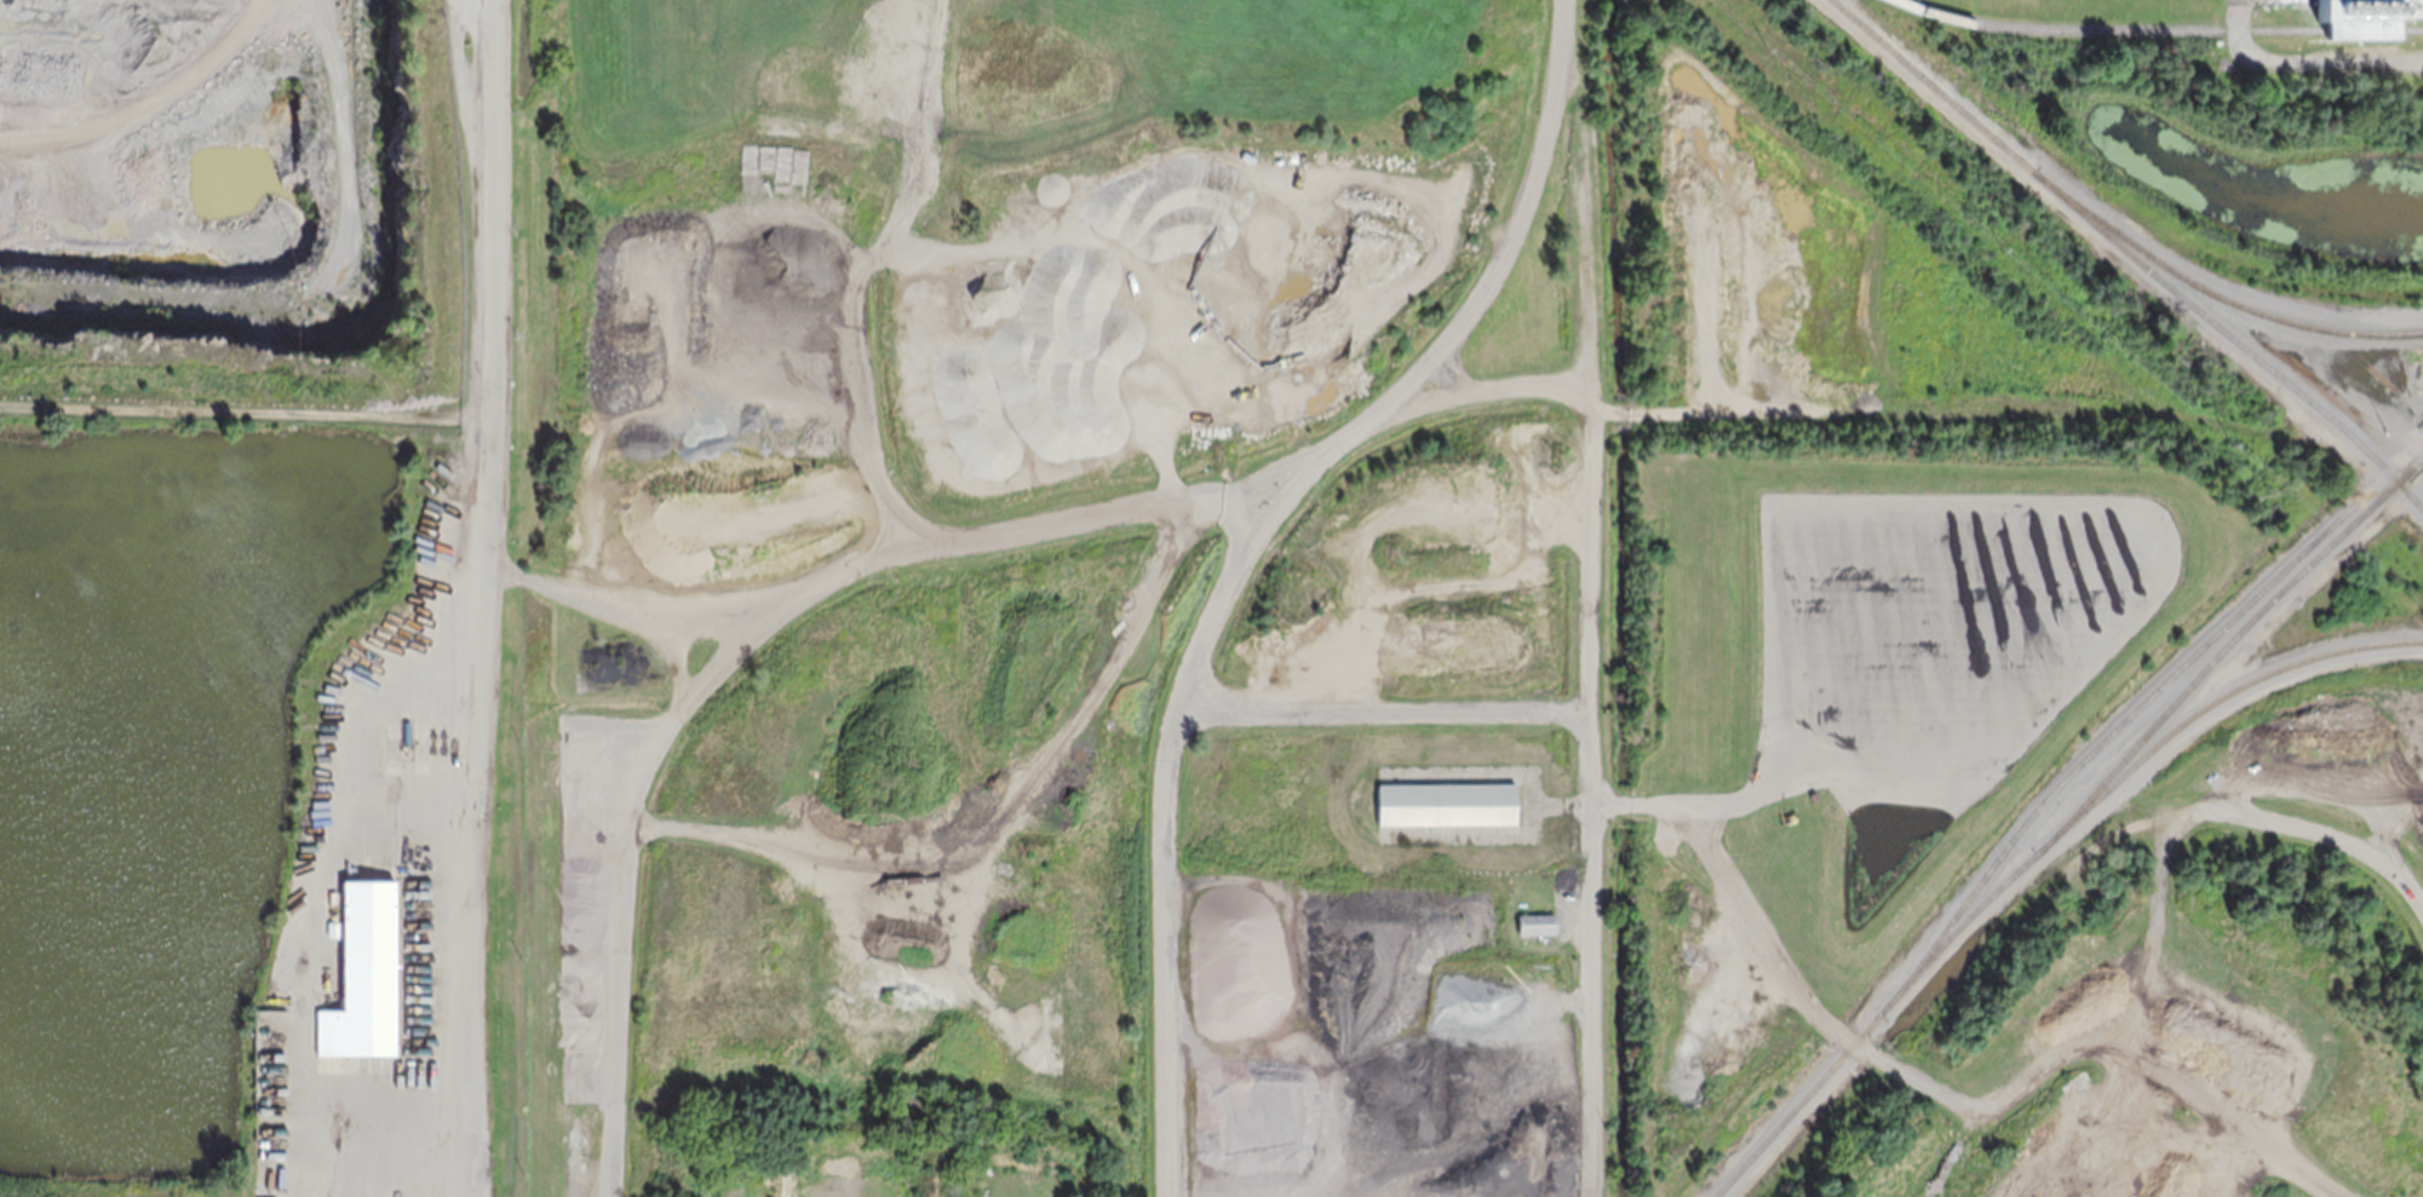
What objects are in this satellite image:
building: (2366, 17)
railway: (2159, 29)
road: (2303, 59)
building: (149, 68)
railway: (2128, 253)
railway: (2212, 293)
road: (1027, 518)
road: (1234, 564)
road: (1589, 595)
road: (481, 598)
landfill: (237, 602)
railway: (2209, 703)
railway: (2101, 741)
building: (1447, 802)
road: (1692, 804)
railway: (2063, 821)
building: (1535, 922)
building: (363, 973)
road: (1969, 1105)
crop: (119, 1196)

